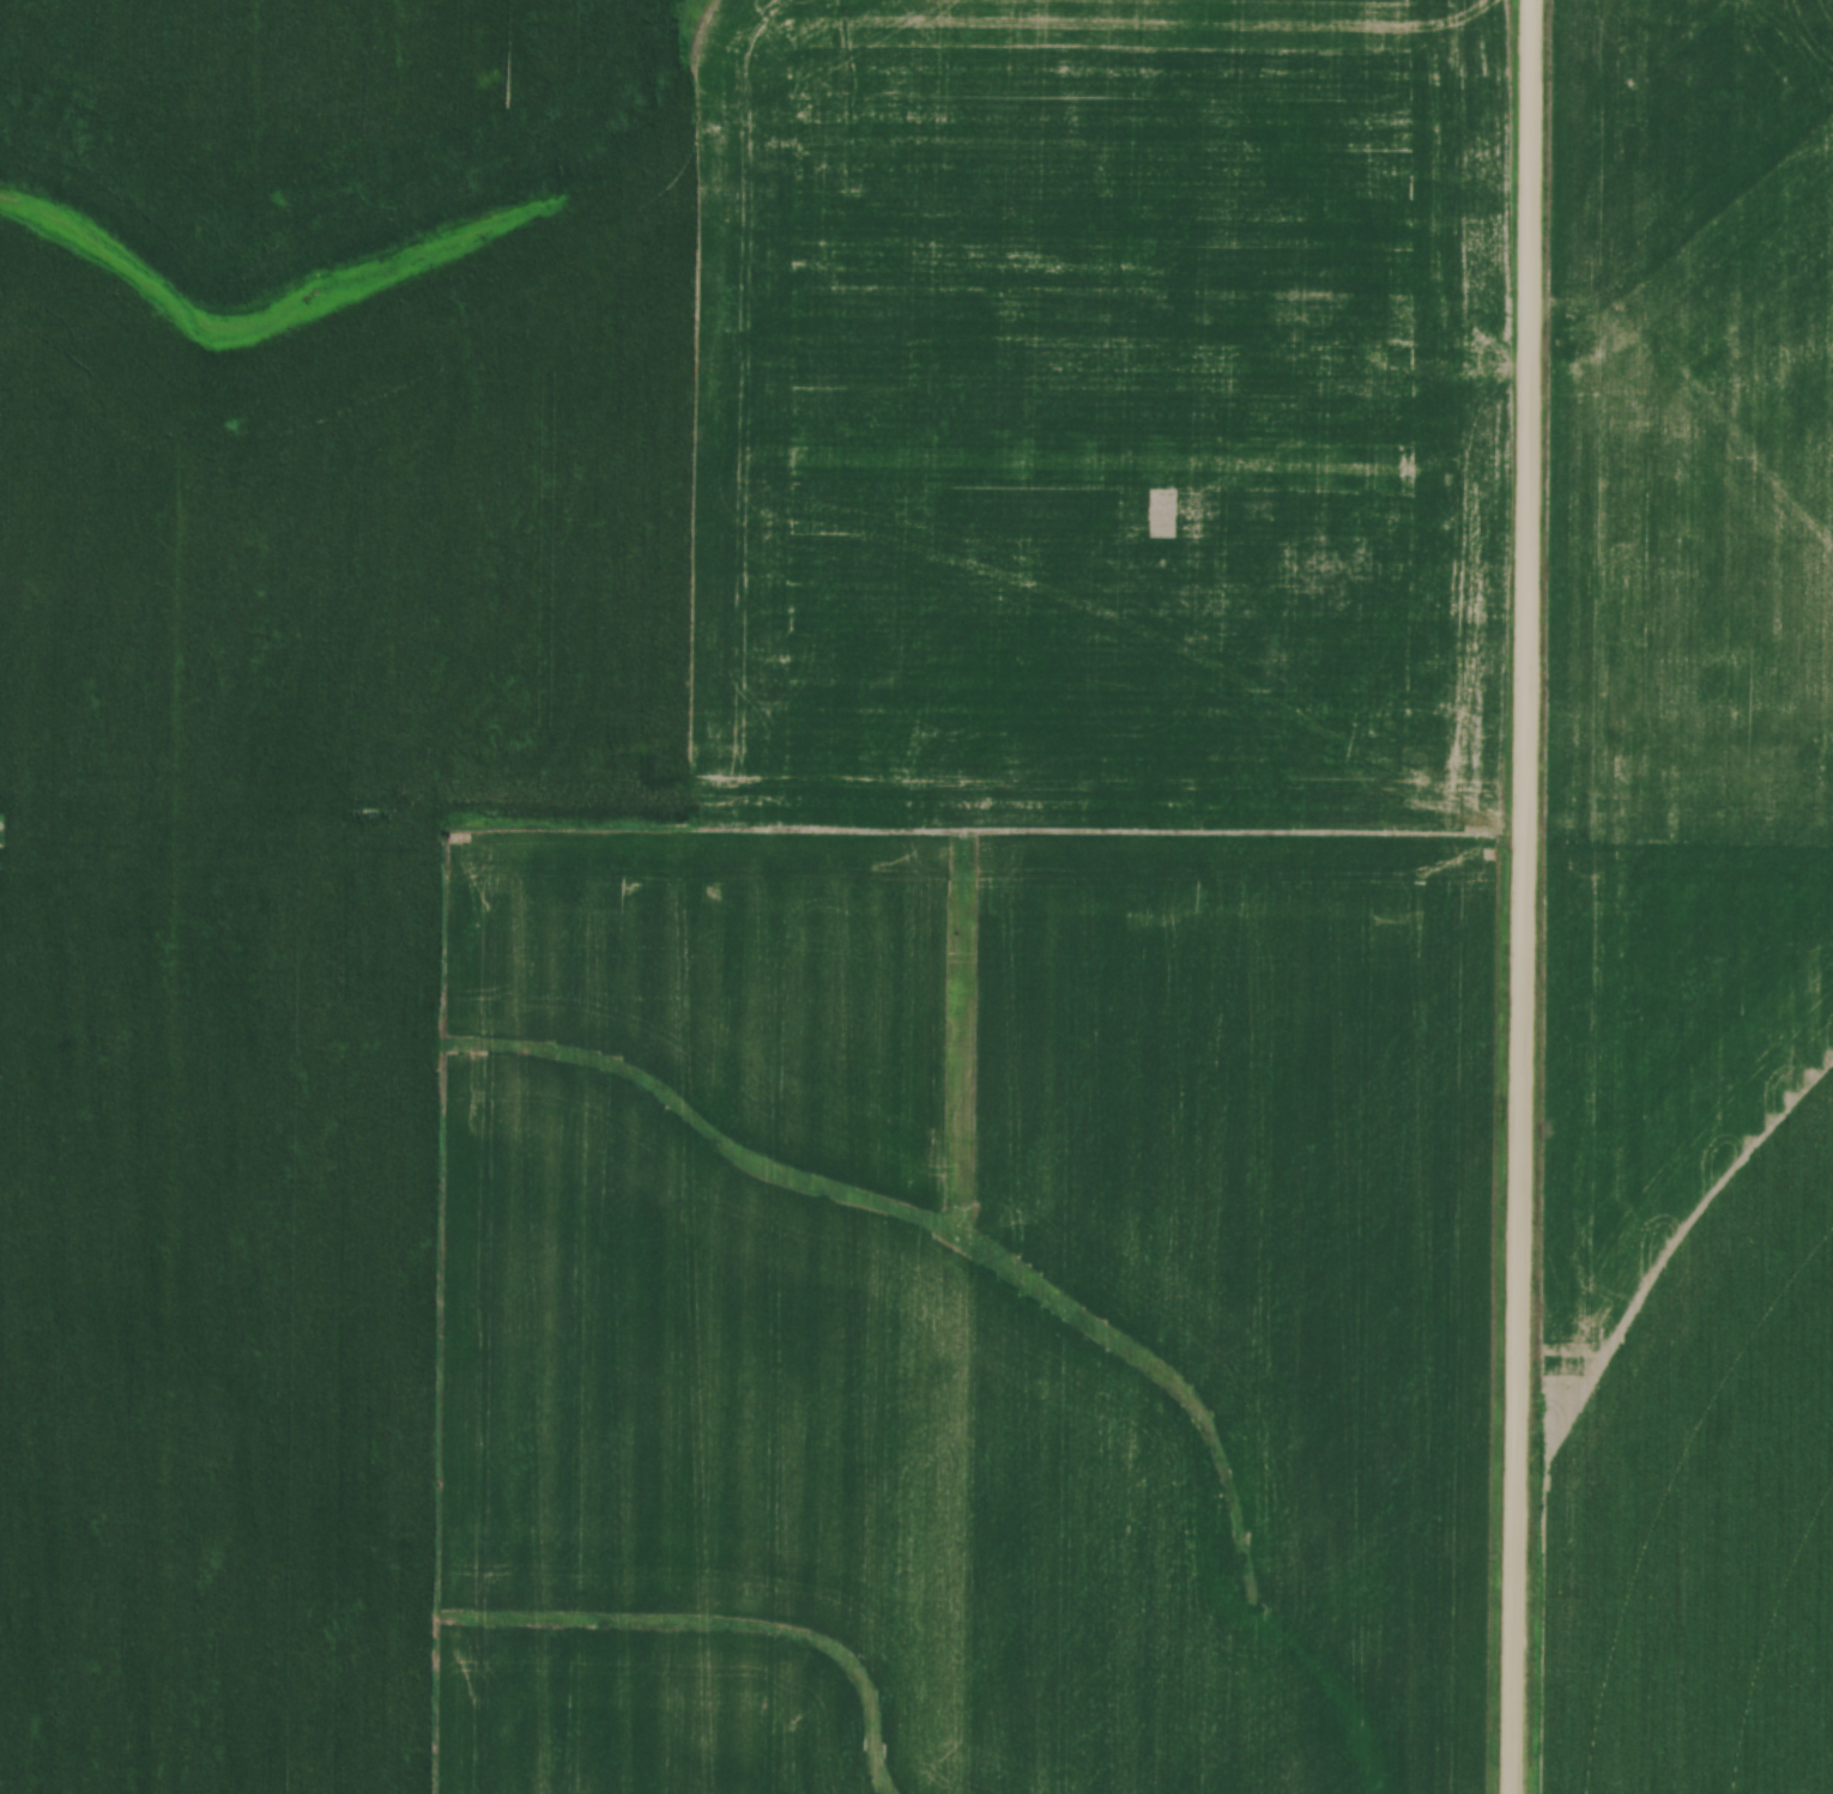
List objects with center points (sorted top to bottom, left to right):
road: (1522, 897)

